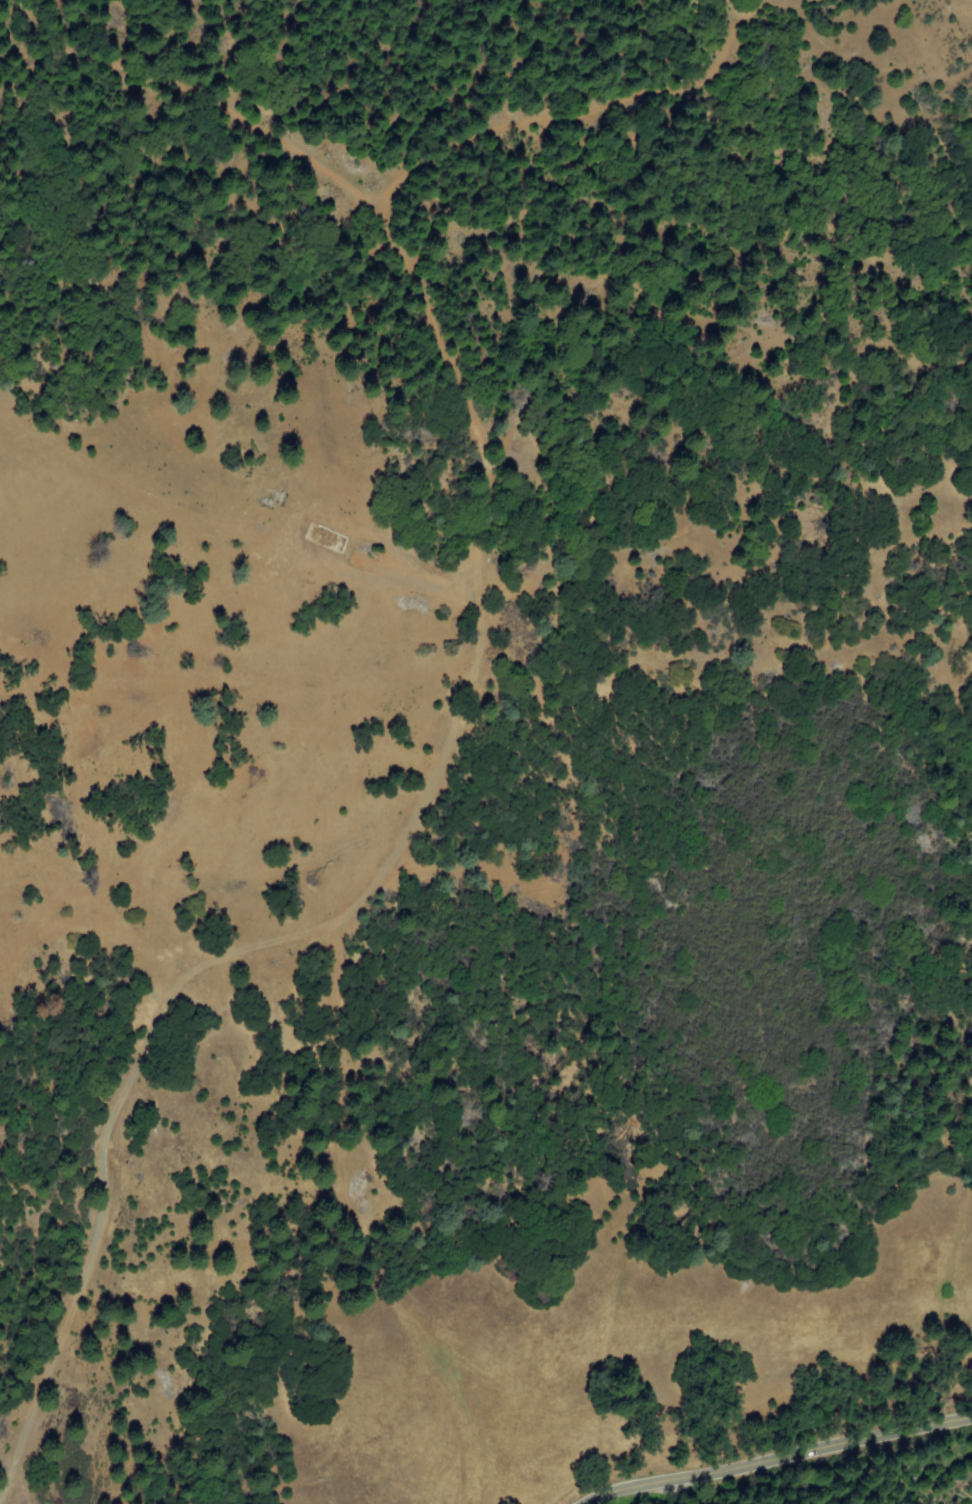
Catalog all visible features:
road: (776, 1457)

